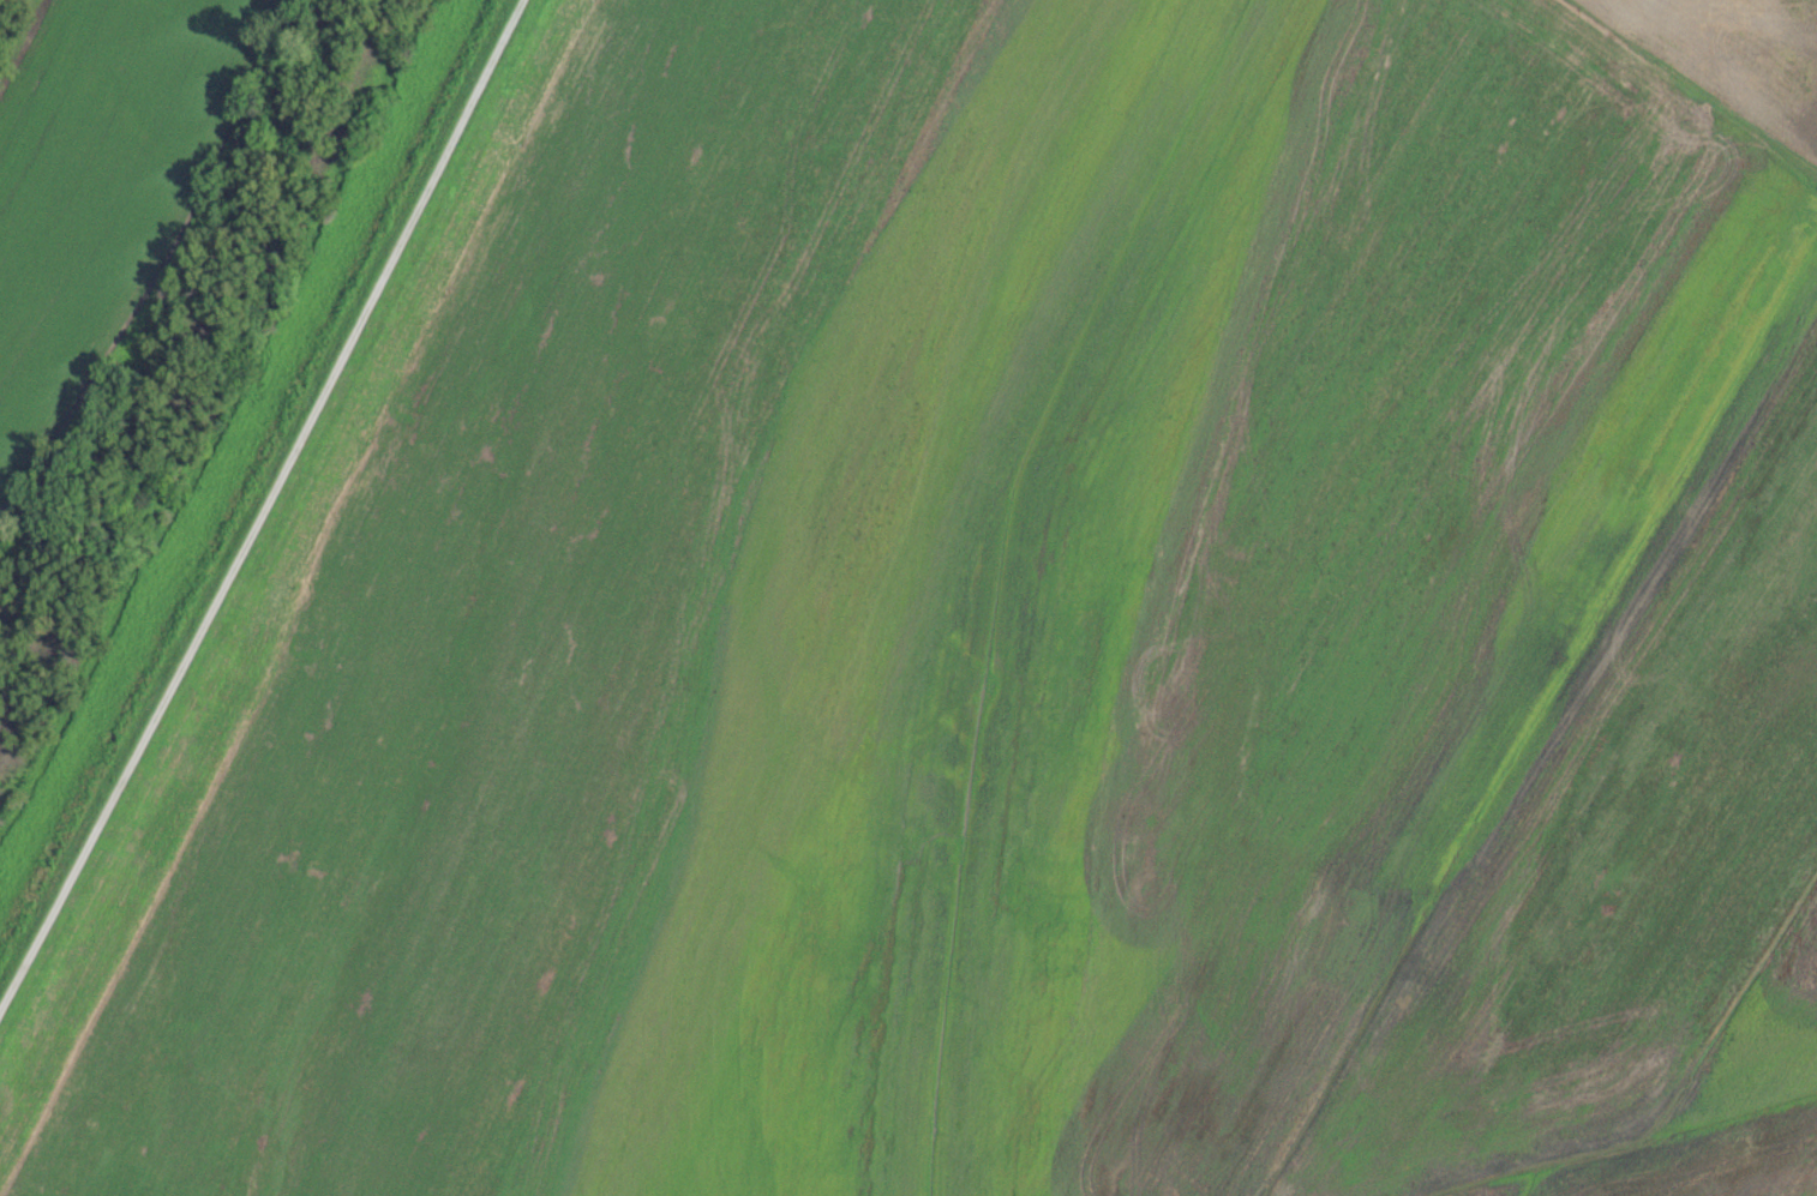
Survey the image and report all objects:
road: (264, 506)

